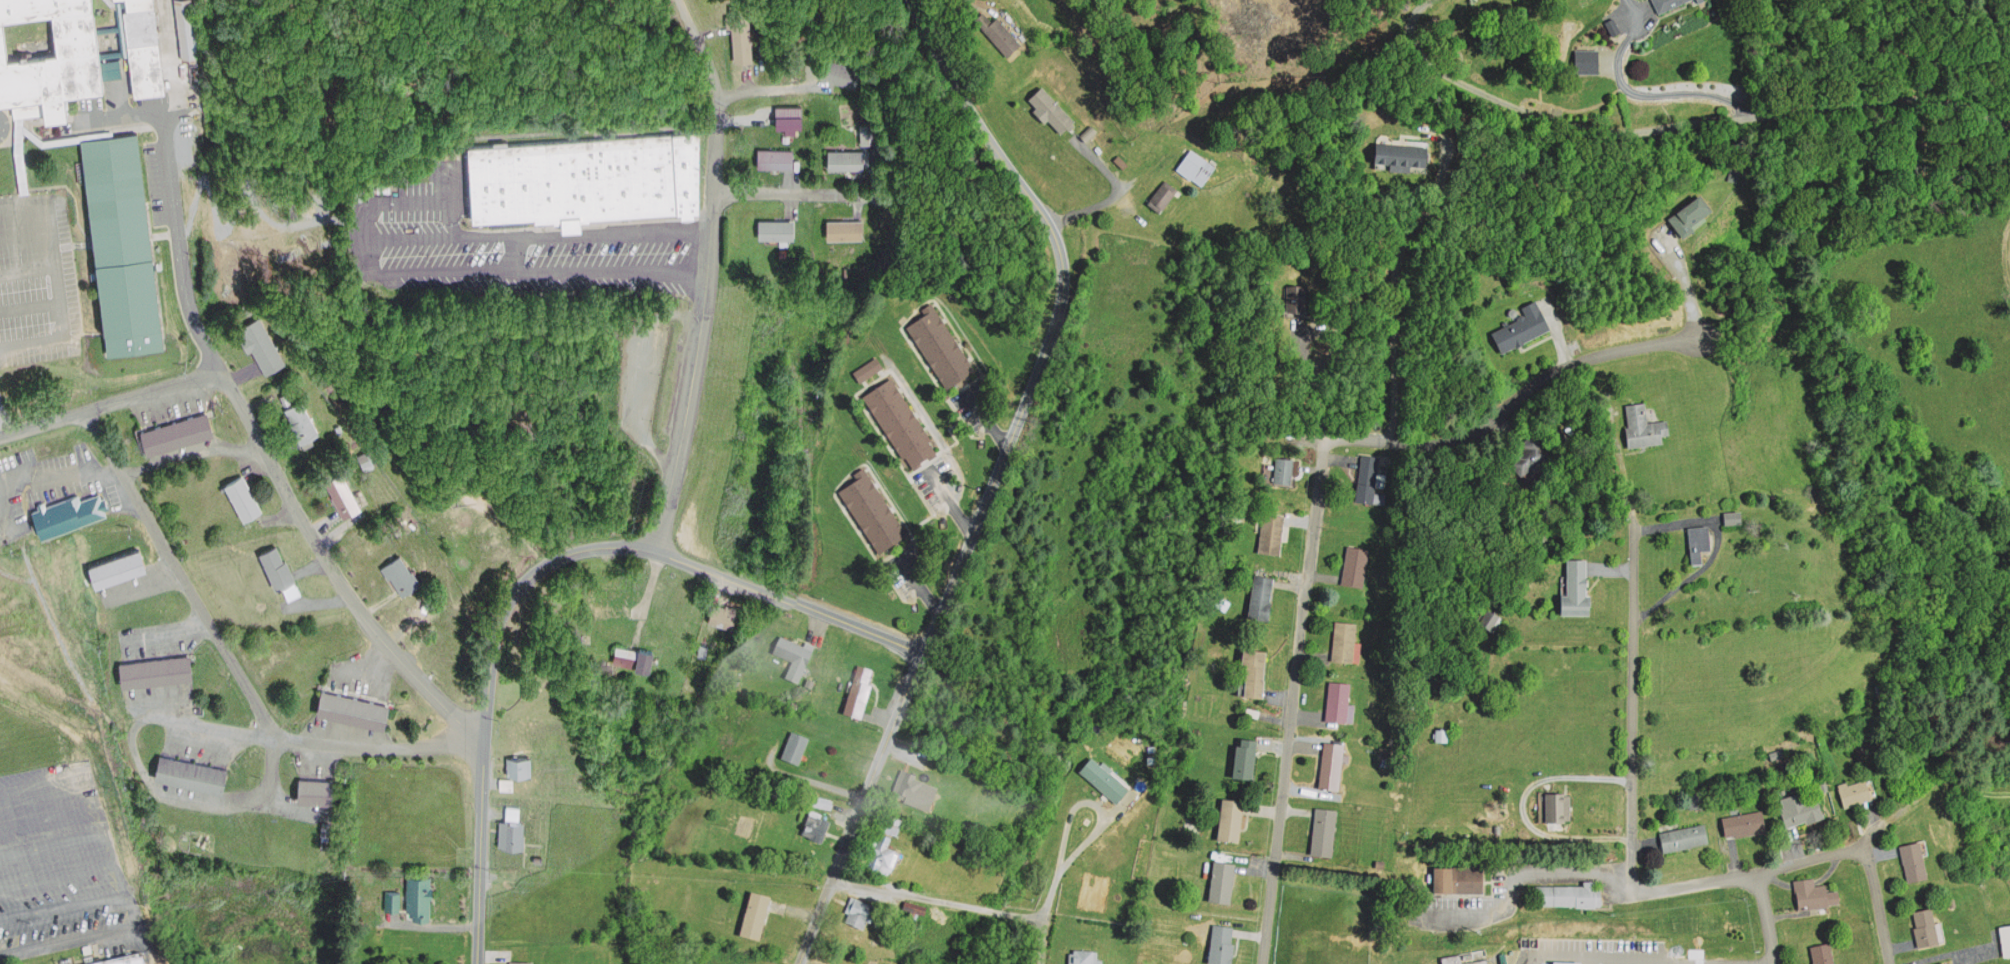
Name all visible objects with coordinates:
building: (1670, 5)
building: (185, 24)
building: (1613, 25)
building: (102, 26)
building: (740, 26)
building: (26, 30)
building: (999, 33)
road: (931, 36)
building: (140, 45)
park: (483, 54)
building: (52, 56)
building: (1587, 61)
building: (842, 67)
building: (1051, 107)
road: (1675, 125)
building: (868, 127)
building: (774, 151)
building: (846, 153)
building: (1402, 154)
building: (1198, 166)
building: (1735, 173)
building: (596, 177)
road: (798, 188)
building: (1163, 195)
building: (1690, 216)
building: (775, 221)
building: (845, 224)
road: (253, 230)
building: (123, 238)
road: (183, 249)
road: (708, 271)
building: (1297, 297)
building: (1524, 325)
building: (261, 338)
building: (941, 348)
building: (868, 370)
road: (1513, 400)
road: (107, 407)
building: (300, 414)
building: (900, 423)
building: (1645, 424)
building: (174, 425)
building: (364, 452)
building: (1529, 456)
building: (1284, 468)
building: (1368, 478)
building: (341, 488)
building: (242, 491)
building: (66, 507)
road: (978, 510)
building: (872, 511)
building: (1736, 517)
building: (1273, 532)
building: (1700, 541)
building: (276, 559)
building: (120, 561)
road: (333, 564)
building: (1356, 565)
road: (537, 567)
building: (398, 569)
road: (182, 572)
building: (1578, 587)
building: (613, 595)
building: (1262, 595)
building: (723, 606)
building: (1491, 618)
building: (1345, 641)
building: (702, 642)
building: (632, 650)
building: (794, 654)
building: (155, 663)
building: (1256, 670)
building: (859, 689)
road: (1633, 701)
building: (352, 702)
road: (1291, 702)
building: (1341, 703)
building: (1443, 734)
road: (315, 741)
building: (794, 747)
building: (1778, 753)
building: (1247, 758)
building: (518, 760)
building: (1331, 763)
building: (191, 768)
building: (1104, 778)
building: (319, 784)
building: (915, 789)
building: (1856, 791)
building: (1698, 797)
building: (820, 801)
building: (513, 808)
building: (1558, 809)
building: (1801, 810)
building: (1231, 820)
building: (893, 823)
building: (1746, 823)
building: (815, 826)
building: (510, 828)
building: (1326, 830)
building: (1686, 836)
building: (884, 858)
building: (1915, 861)
road: (1784, 864)
road: (1513, 876)
building: (1459, 879)
building: (1223, 881)
building: (417, 891)
parking lot: (1509, 892)
building: (1816, 893)
building: (392, 894)
building: (1569, 894)
road: (938, 900)
road: (1872, 902)
building: (914, 907)
building: (861, 912)
building: (757, 916)
road: (1766, 916)
building: (1929, 927)
building: (2008, 938)
building: (1223, 944)
road: (1040, 945)
parking lot: (1606, 949)
building: (1823, 952)
building: (1086, 957)
building: (1466, 957)
building: (125, 960)
road: (1597, 960)
building: (521, 961)
building: (1944, 962)
building: (1570, 963)
road: (1765, 963)

